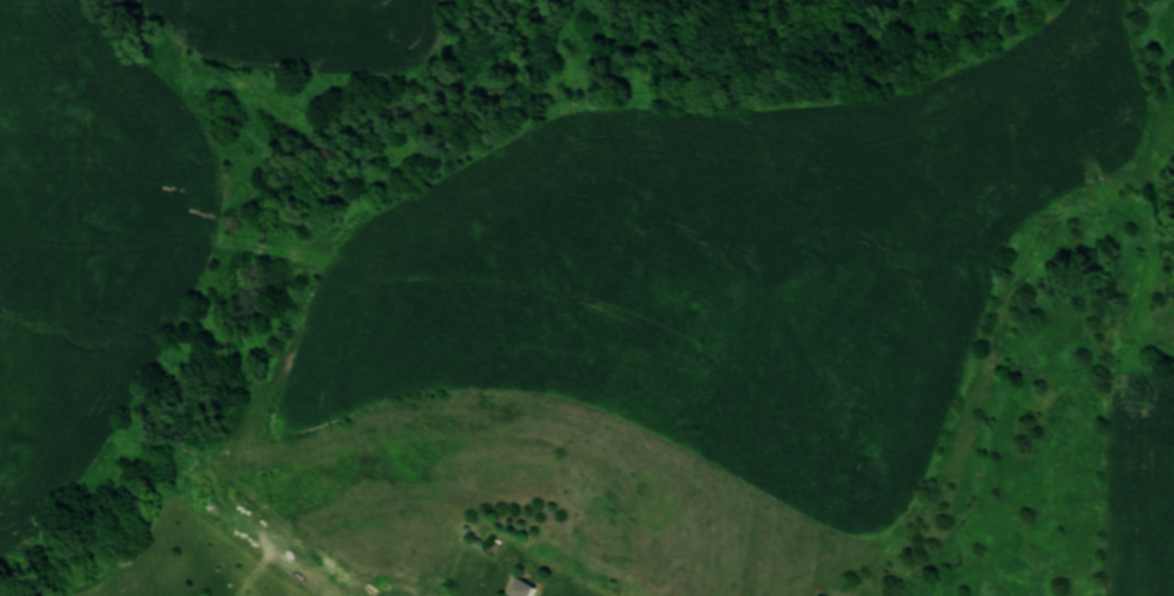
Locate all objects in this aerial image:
building: (518, 586)

